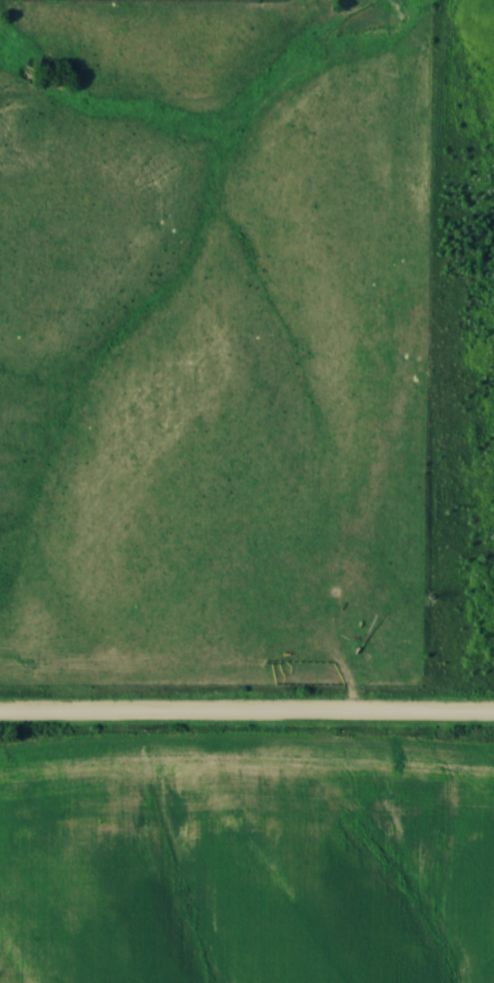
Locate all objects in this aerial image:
road: (247, 716)

